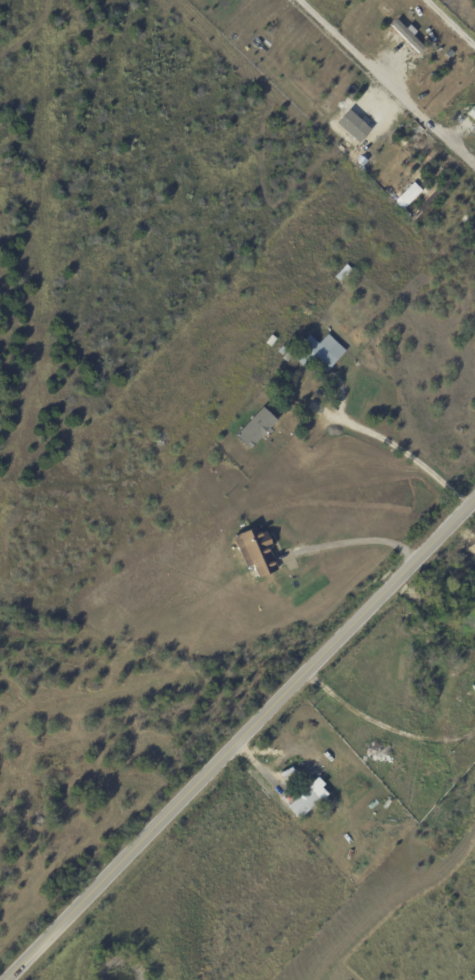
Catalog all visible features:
road: (455, 18)
building: (411, 36)
road: (387, 84)
building: (473, 113)
building: (358, 125)
building: (411, 195)
building: (271, 341)
building: (284, 352)
building: (319, 352)
building: (257, 428)
road: (408, 451)
road: (352, 543)
building: (257, 551)
building: (474, 687)
road: (240, 738)
building: (304, 804)
building: (181, 959)

